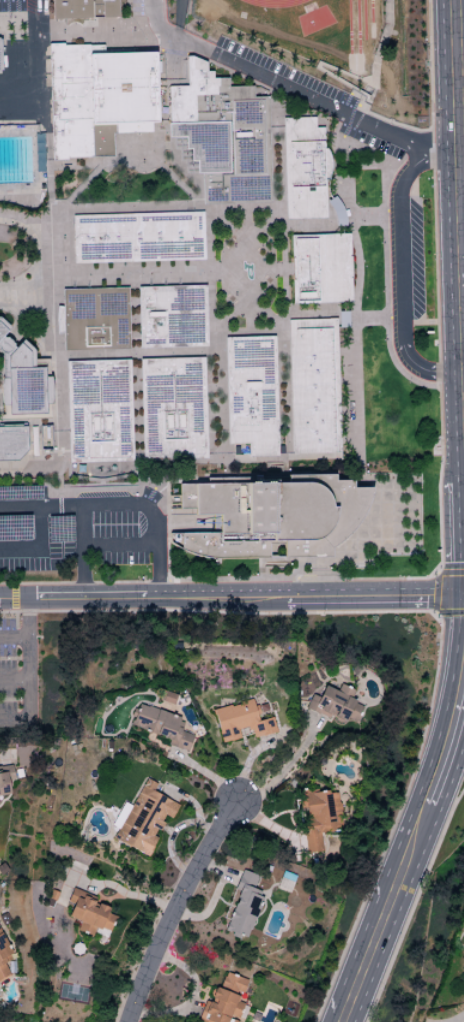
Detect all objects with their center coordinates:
track: (273, 3)
building: (82, 9)
road: (33, 60)
road: (320, 71)
road: (274, 84)
building: (97, 99)
building: (219, 134)
road: (428, 159)
building: (303, 169)
building: (136, 237)
road: (397, 251)
building: (319, 269)
road: (385, 289)
road: (449, 298)
building: (169, 317)
building: (93, 319)
road: (420, 367)
building: (19, 379)
building: (312, 386)
building: (249, 394)
building: (12, 443)
road: (119, 503)
road: (437, 506)
building: (272, 517)
road: (119, 544)
road: (40, 549)
road: (81, 550)
road: (229, 596)
road: (435, 596)
road: (461, 596)
traffic signals: (459, 597)
road: (14, 598)
road: (217, 612)
road: (14, 639)
road: (27, 640)
parking lot: (21, 674)
road: (13, 681)
building: (333, 704)
building: (242, 720)
building: (161, 726)
road: (4, 754)
road: (282, 771)
building: (5, 780)
road: (409, 813)
building: (141, 818)
building: (318, 818)
road: (410, 878)
road: (131, 895)
building: (243, 906)
road: (176, 909)
building: (88, 913)
building: (3, 958)
building: (223, 1001)
road: (460, 1019)

